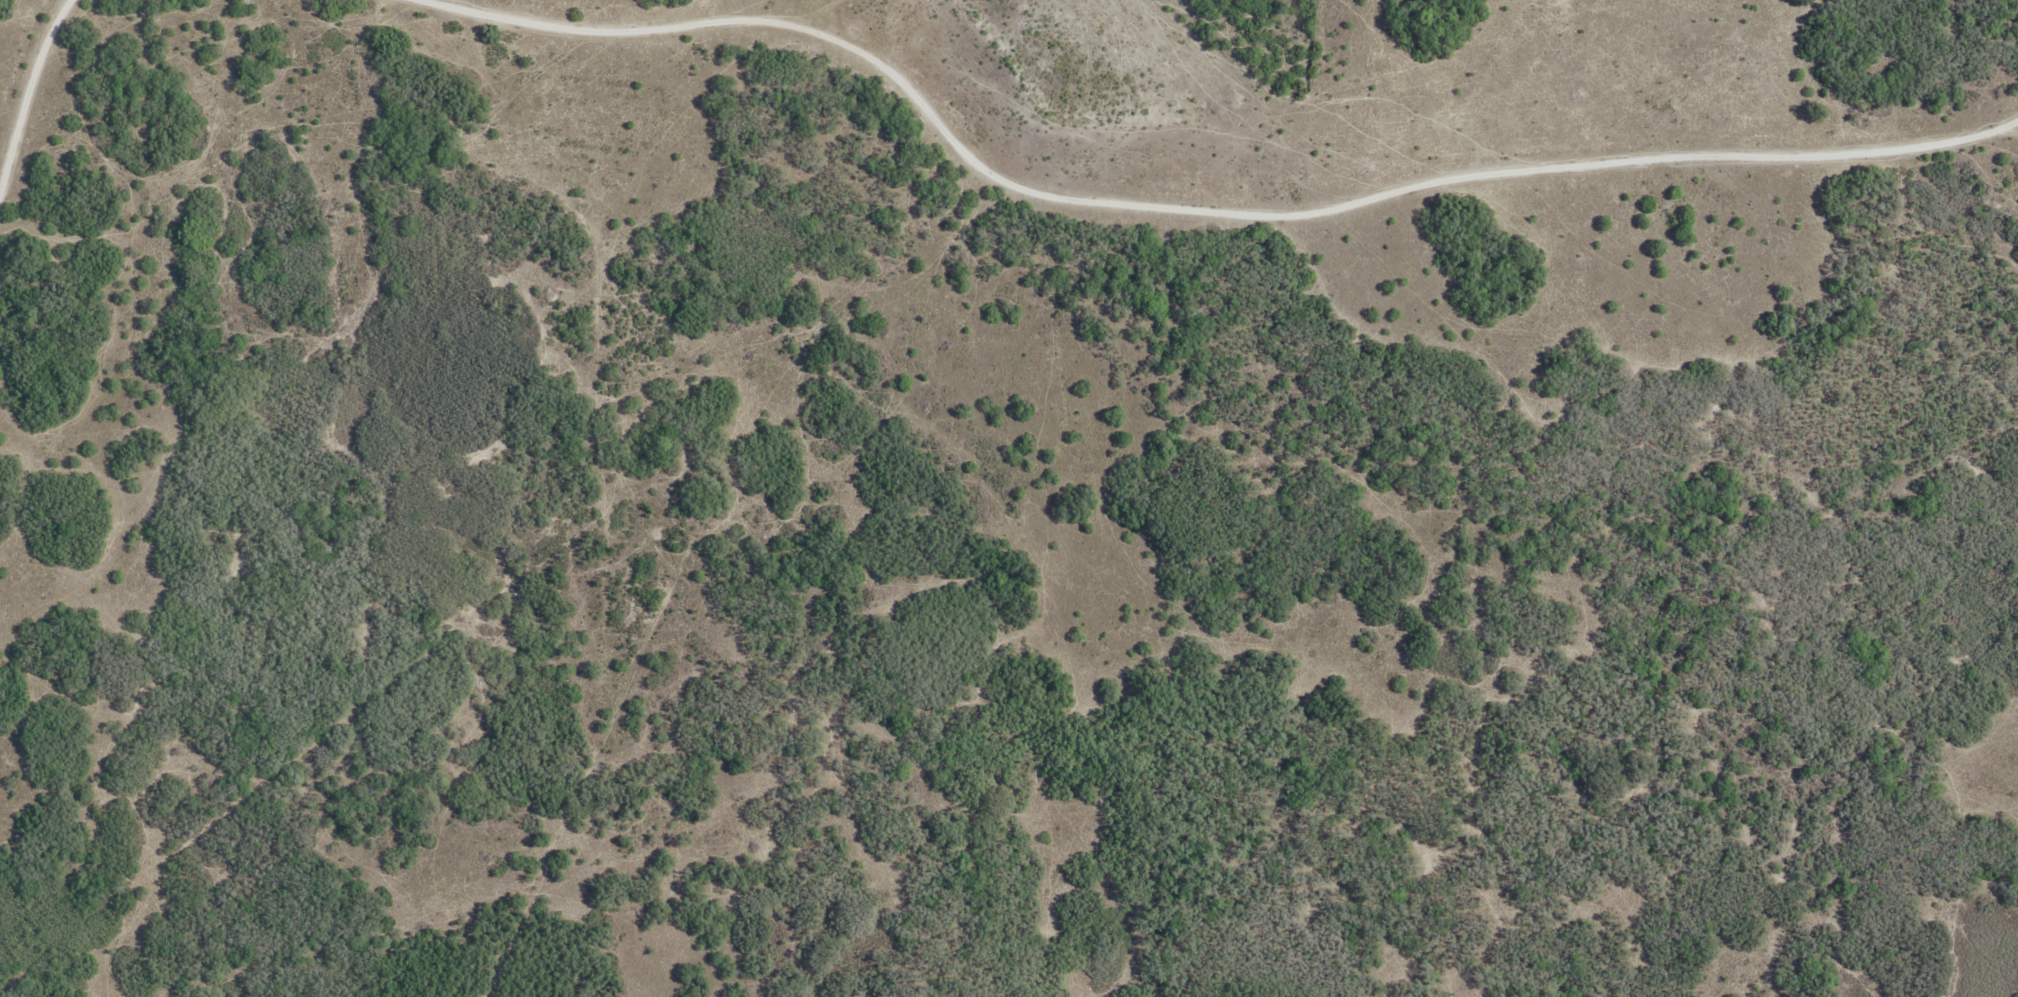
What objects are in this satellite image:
road: (51, 128)
road: (1978, 171)
road: (1264, 187)
road: (324, 358)

